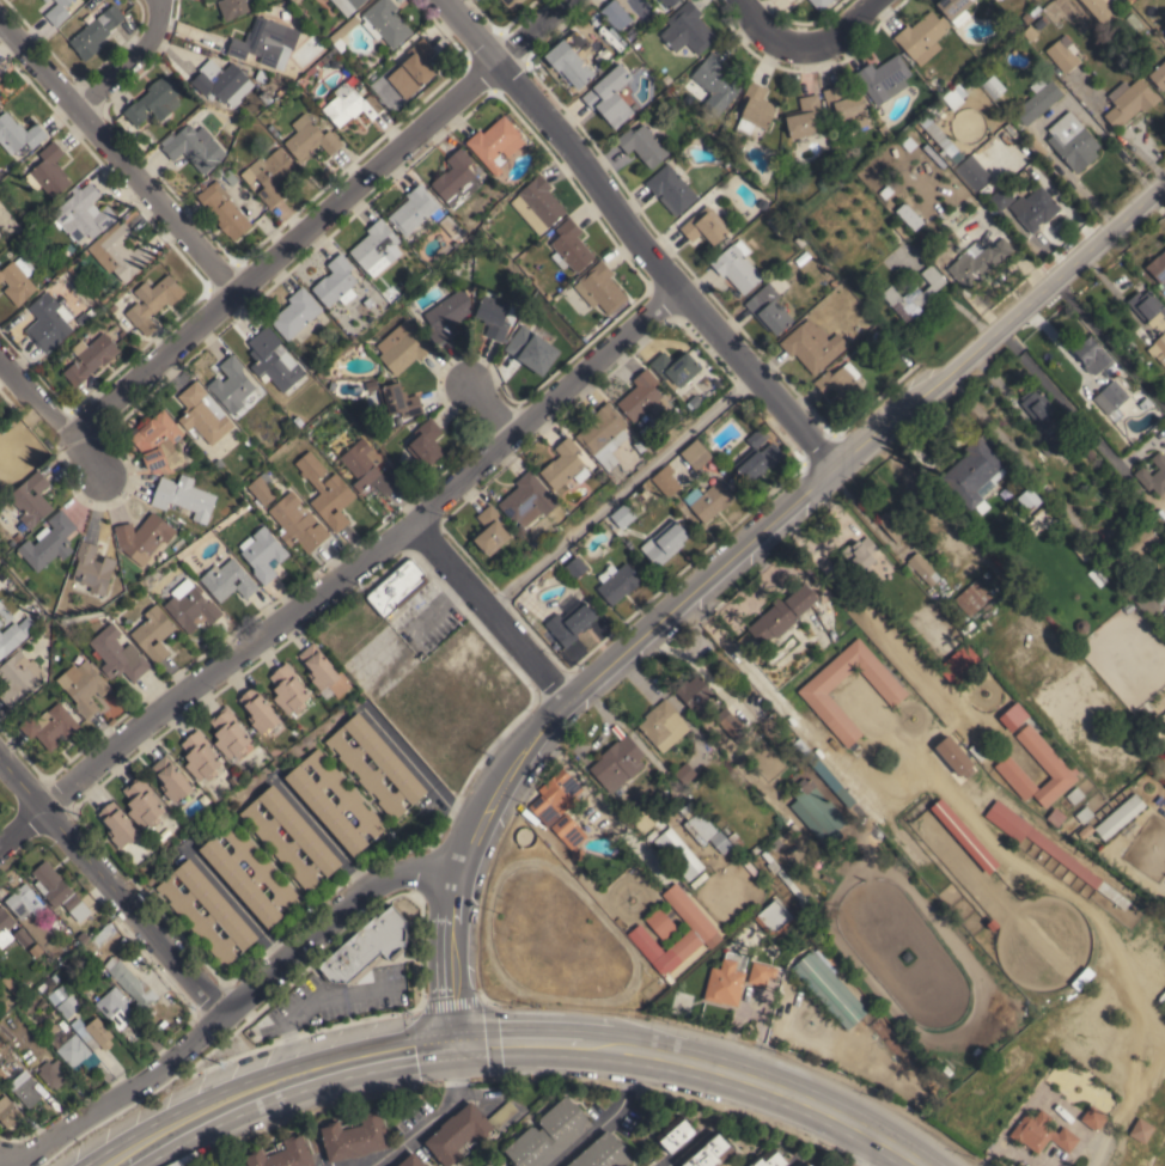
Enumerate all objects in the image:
building: (43, 0)
building: (45, 0)
building: (1129, 1)
building: (511, 2)
building: (819, 2)
building: (348, 5)
building: (663, 5)
building: (231, 8)
building: (1100, 8)
building: (954, 10)
building: (57, 12)
building: (283, 14)
building: (615, 14)
building: (1025, 17)
building: (385, 22)
road: (843, 25)
building: (687, 29)
building: (96, 31)
road: (769, 31)
building: (1030, 32)
building: (342, 33)
building: (921, 37)
building: (264, 42)
building: (635, 43)
building: (1062, 53)
road: (133, 61)
building: (417, 62)
building: (569, 67)
building: (313, 68)
building: (262, 75)
building: (1158, 75)
building: (883, 78)
building: (666, 79)
building: (221, 81)
building: (714, 83)
building: (992, 86)
building: (609, 96)
building: (154, 100)
building: (1129, 100)
building: (319, 102)
building: (1036, 102)
building: (349, 104)
building: (846, 108)
building: (754, 109)
building: (804, 117)
building: (273, 129)
building: (883, 129)
building: (18, 133)
building: (310, 138)
building: (903, 140)
building: (1072, 141)
building: (495, 142)
building: (642, 145)
building: (1037, 146)
building: (194, 147)
road: (116, 154)
building: (873, 163)
building: (728, 165)
building: (48, 171)
building: (878, 172)
building: (972, 172)
building: (225, 175)
building: (270, 175)
building: (456, 179)
building: (671, 187)
building: (1001, 197)
building: (537, 202)
building: (222, 208)
building: (1035, 208)
building: (414, 209)
building: (81, 213)
building: (907, 215)
road: (322, 216)
building: (705, 225)
building: (538, 228)
building: (902, 231)
road: (633, 237)
building: (569, 246)
building: (376, 248)
building: (118, 251)
building: (977, 261)
building: (737, 265)
building: (1157, 267)
building: (18, 279)
building: (336, 281)
building: (599, 287)
building: (914, 294)
building: (152, 301)
building: (1147, 306)
building: (112, 307)
building: (768, 310)
building: (295, 312)
building: (446, 315)
building: (84, 316)
building: (495, 316)
building: (48, 321)
road: (1000, 323)
building: (812, 344)
road: (1108, 344)
building: (532, 346)
building: (402, 347)
building: (1160, 348)
building: (1092, 354)
building: (90, 358)
building: (273, 360)
building: (675, 367)
building: (1111, 371)
building: (231, 384)
building: (842, 385)
building: (1163, 385)
road: (1056, 395)
building: (642, 396)
building: (398, 399)
building: (1141, 399)
building: (1114, 401)
building: (1036, 404)
building: (688, 405)
road: (495, 407)
road: (50, 411)
building: (202, 414)
building: (603, 428)
building: (158, 442)
building: (426, 442)
building: (1051, 442)
building: (639, 445)
building: (1121, 447)
building: (695, 454)
building: (757, 457)
building: (608, 459)
building: (218, 463)
building: (562, 463)
building: (368, 468)
building: (972, 474)
building: (1153, 474)
building: (666, 480)
building: (731, 484)
building: (262, 488)
building: (327, 492)
building: (1005, 492)
road: (620, 493)
building: (183, 496)
building: (31, 499)
building: (1026, 499)
building: (526, 500)
building: (710, 501)
building: (623, 515)
building: (1037, 519)
building: (297, 521)
building: (893, 523)
building: (490, 530)
building: (18, 536)
building: (144, 536)
building: (49, 541)
building: (1139, 541)
building: (664, 542)
building: (1079, 551)
building: (262, 553)
building: (858, 553)
building: (575, 567)
building: (919, 567)
building: (92, 568)
road: (341, 573)
building: (1096, 575)
building: (228, 580)
building: (617, 581)
building: (397, 587)
building: (970, 597)
building: (1, 604)
building: (190, 605)
building: (1126, 606)
road: (486, 611)
building: (780, 612)
building: (1164, 613)
building: (571, 621)
building: (0, 622)
building: (26, 624)
building: (932, 628)
building: (153, 633)
building: (10, 639)
building: (117, 654)
road: (605, 663)
building: (958, 665)
building: (323, 670)
building: (19, 677)
building: (83, 685)
building: (289, 689)
building: (690, 690)
building: (810, 691)
building: (258, 709)
building: (1012, 716)
building: (1163, 716)
building: (726, 722)
building: (49, 725)
building: (660, 725)
building: (228, 733)
building: (1158, 737)
building: (200, 756)
building: (953, 756)
building: (389, 762)
building: (617, 763)
building: (1059, 771)
road: (421, 773)
building: (683, 773)
building: (828, 776)
building: (171, 777)
building: (1073, 794)
building: (556, 796)
building: (318, 801)
building: (142, 804)
building: (817, 811)
building: (1082, 814)
building: (1118, 816)
building: (1054, 817)
building: (697, 820)
building: (117, 824)
building: (567, 830)
building: (1085, 830)
road: (321, 831)
building: (788, 834)
building: (962, 834)
building: (304, 835)
building: (734, 838)
building: (780, 838)
building: (720, 842)
building: (1048, 848)
building: (755, 849)
building: (678, 853)
building: (749, 867)
building: (232, 873)
building: (697, 878)
building: (791, 889)
building: (59, 890)
road: (111, 892)
building: (20, 901)
building: (219, 908)
building: (773, 916)
building: (660, 922)
building: (990, 923)
building: (5, 927)
building: (702, 932)
building: (22, 936)
building: (94, 940)
building: (365, 947)
building: (79, 956)
building: (683, 962)
building: (761, 972)
road: (450, 977)
building: (54, 978)
building: (130, 982)
building: (724, 983)
building: (44, 984)
building: (11, 985)
building: (828, 988)
building: (56, 994)
road: (312, 1002)
building: (4, 1006)
building: (68, 1006)
building: (115, 1007)
road: (230, 1011)
building: (97, 1034)
traffic signals: (458, 1042)
road: (519, 1042)
building: (73, 1051)
building: (53, 1073)
road: (281, 1079)
road: (758, 1081)
building: (25, 1092)
building: (8, 1111)
road: (432, 1112)
building: (502, 1113)
building: (1092, 1116)
road: (608, 1118)
building: (1140, 1128)
building: (1039, 1130)
building: (458, 1134)
building: (548, 1135)
building: (677, 1135)
building: (354, 1136)
road: (684, 1148)
building: (603, 1153)
building: (709, 1153)
road: (879, 1153)
building: (282, 1154)
building: (769, 1158)
building: (411, 1160)
road: (102, 1161)
road: (118, 1161)
building: (489, 1164)
road: (792, 1165)
building: (810, 1165)

